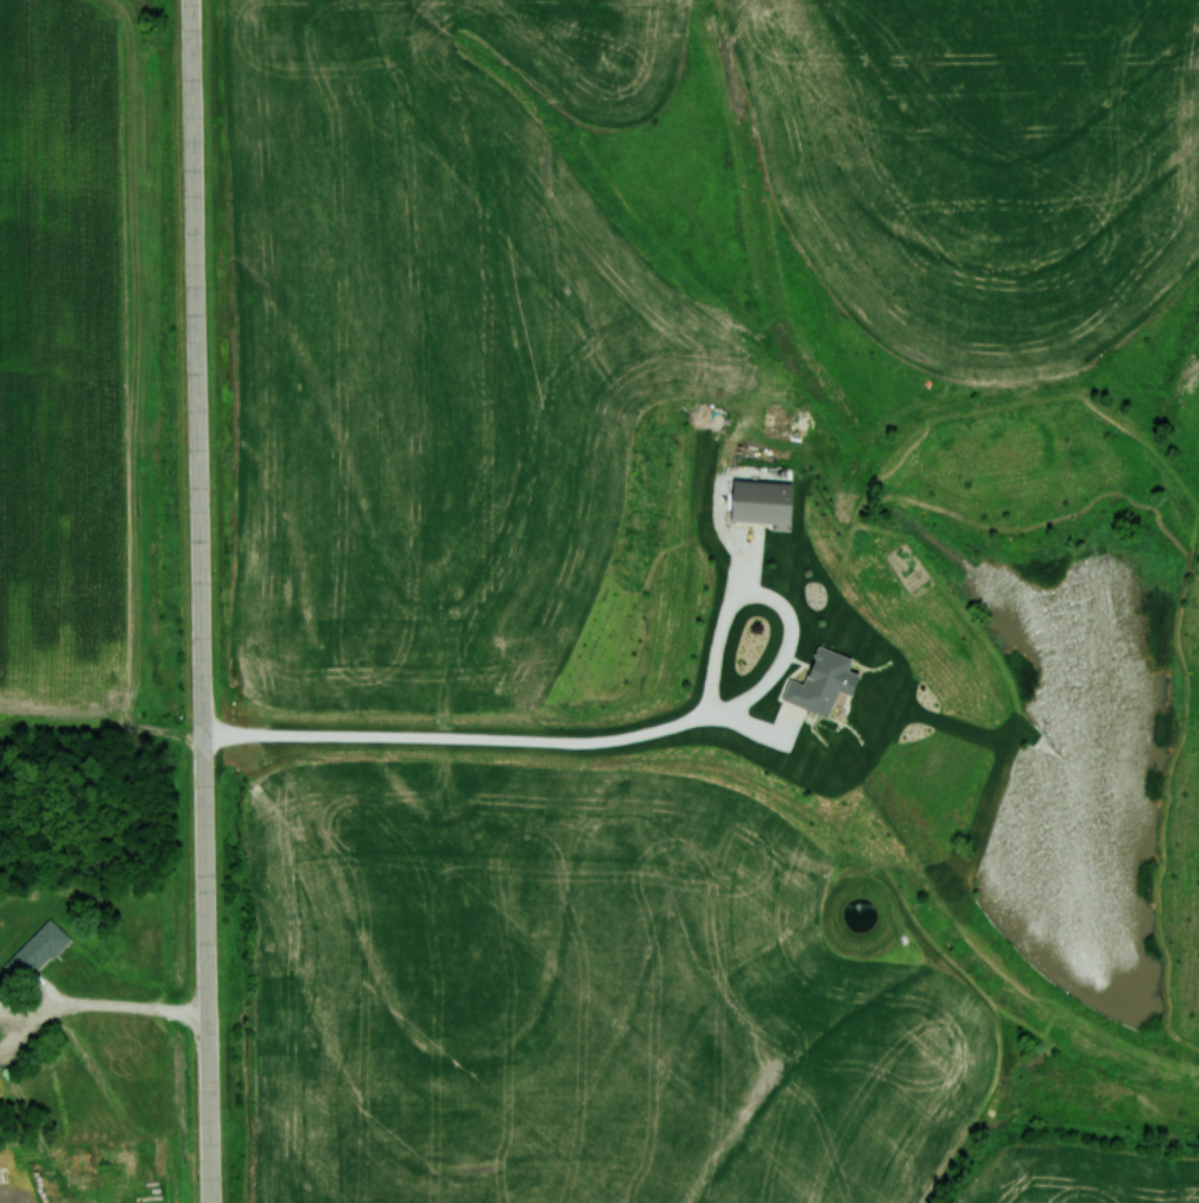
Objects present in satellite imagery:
building: (760, 502)
road: (201, 601)
building: (827, 682)
building: (34, 951)

